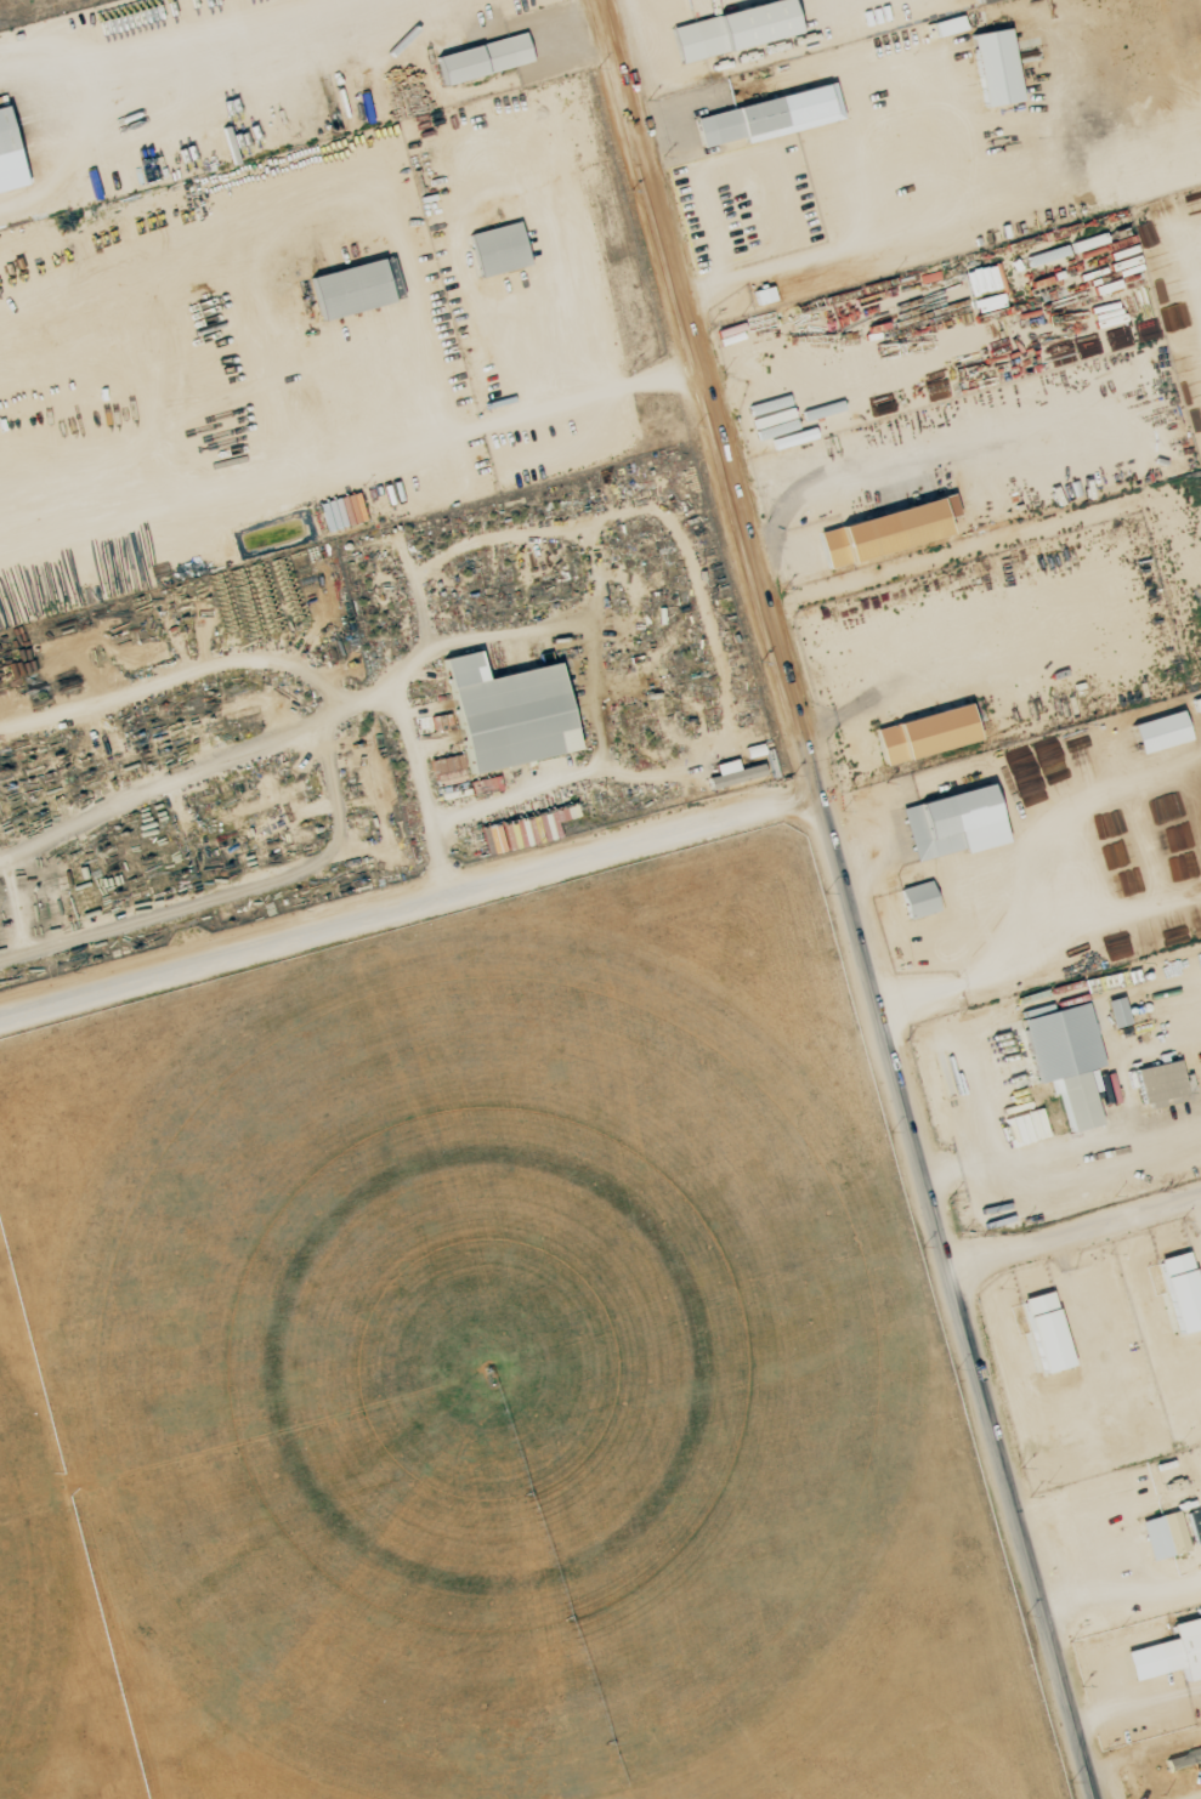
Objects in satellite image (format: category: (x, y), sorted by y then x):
road: (58, 18)
building: (951, 24)
building: (737, 27)
road: (284, 36)
building: (487, 56)
building: (998, 66)
building: (772, 114)
building: (7, 130)
road: (278, 217)
road: (871, 240)
building: (502, 248)
building: (355, 286)
road: (597, 393)
building: (885, 530)
building: (512, 711)
building: (1162, 731)
building: (929, 732)
building: (731, 772)
building: (957, 822)
building: (920, 898)
road: (846, 899)
road: (412, 918)
building: (1118, 1011)
building: (1067, 1057)
building: (1163, 1082)
road: (1024, 1154)
road: (1073, 1231)
building: (1184, 1289)
building: (1049, 1330)
building: (1165, 1534)
building: (1171, 1653)
road: (1196, 1798)

